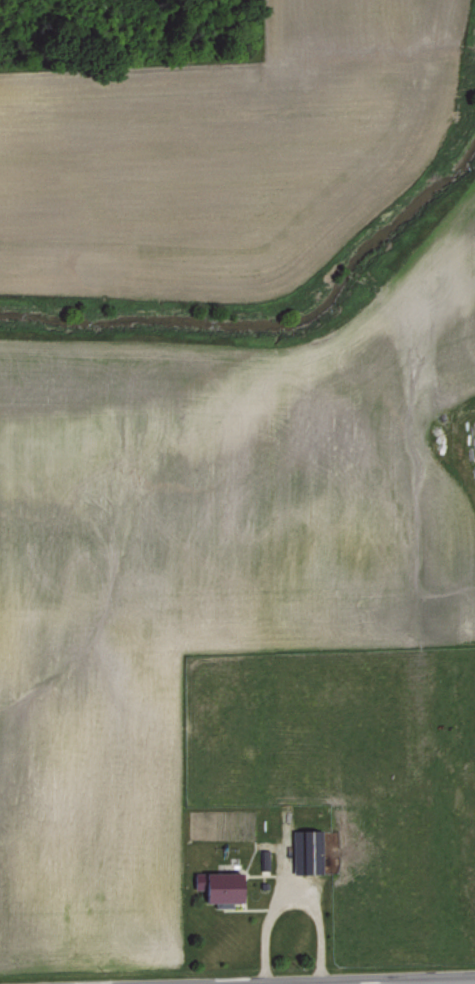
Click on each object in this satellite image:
building: (310, 849)
building: (221, 886)
road: (292, 903)
road: (343, 981)
road: (367, 982)

